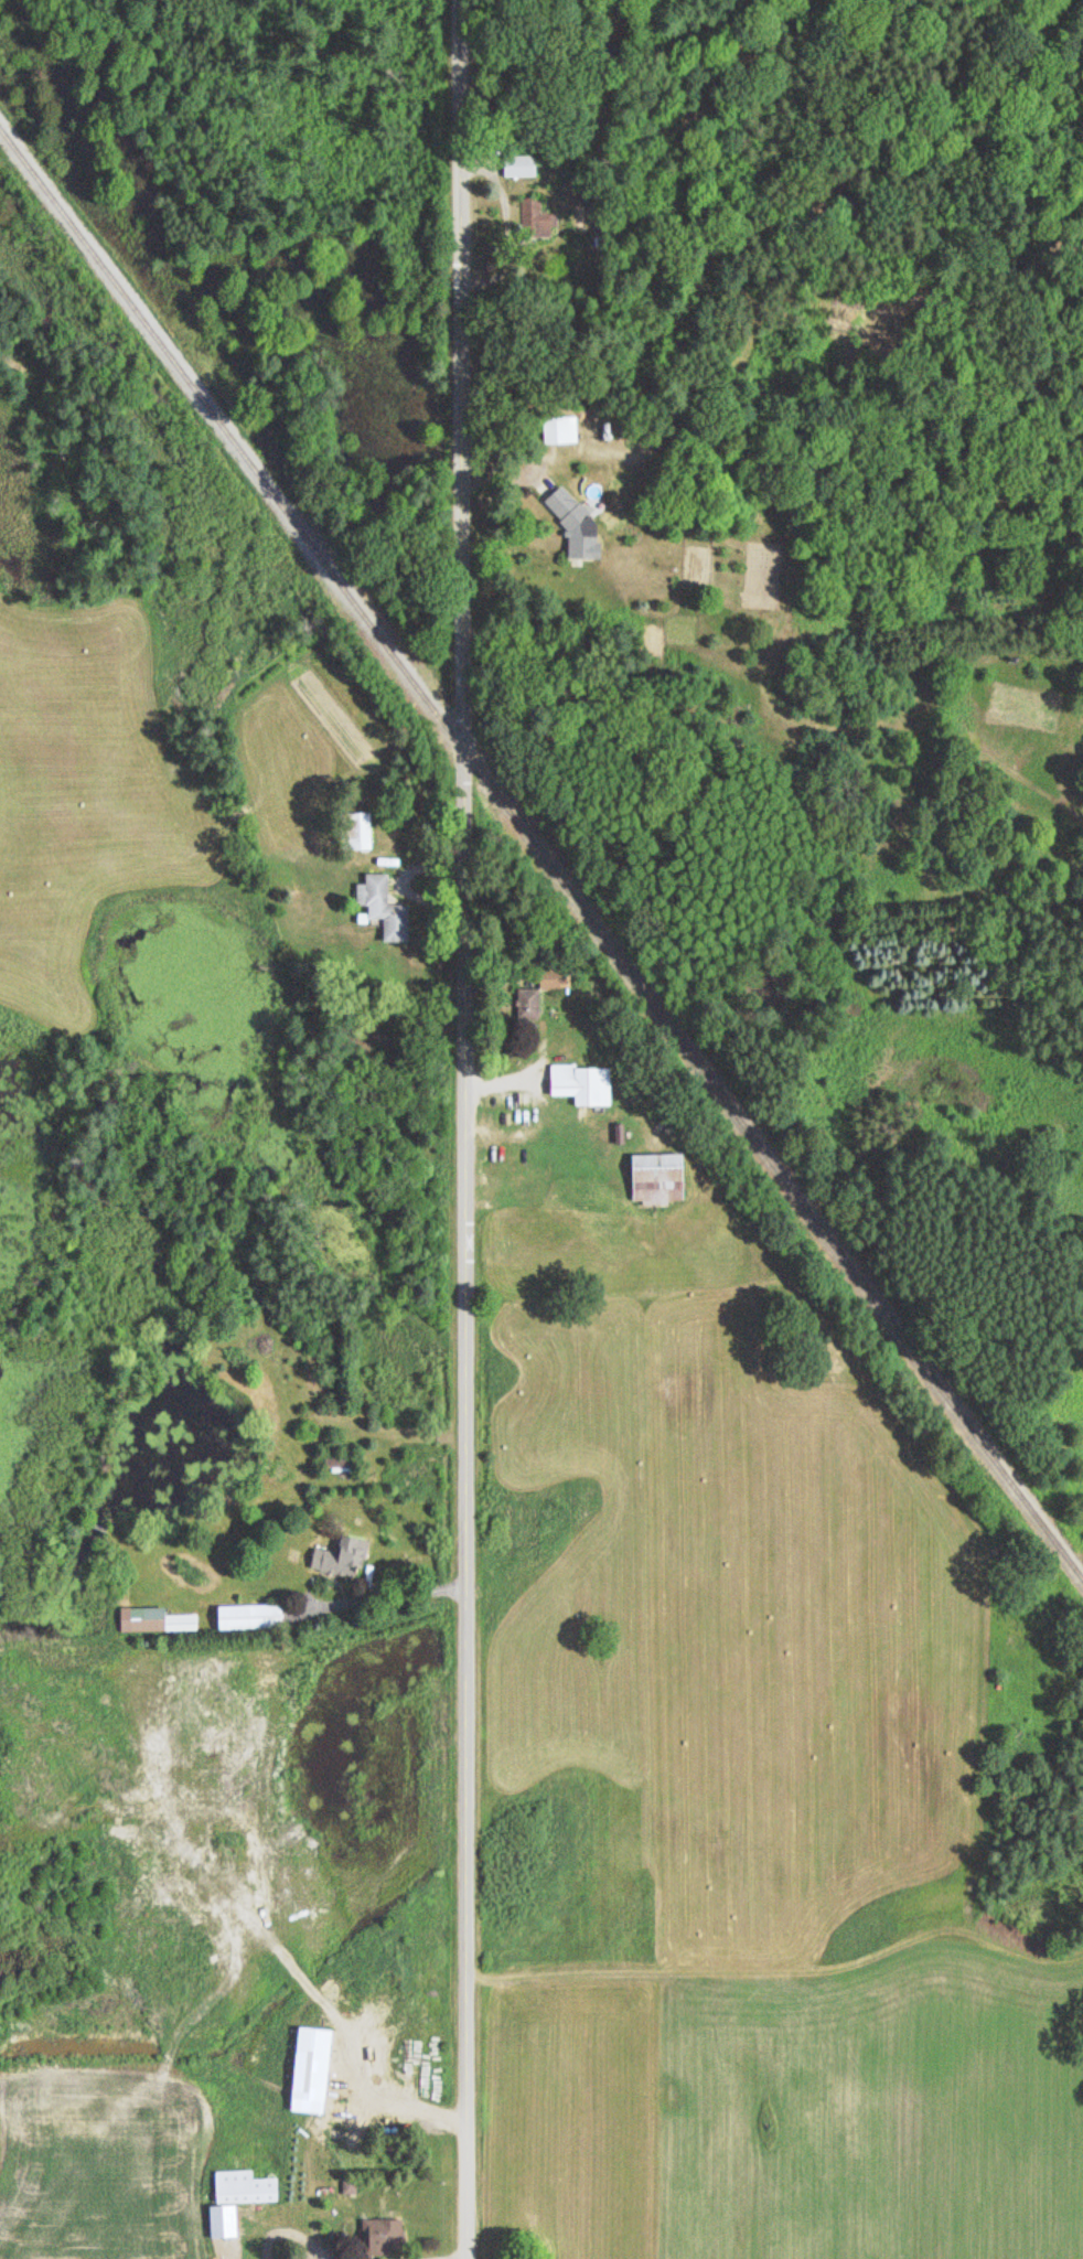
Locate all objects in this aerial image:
building: (522, 168)
building: (537, 218)
building: (561, 426)
building: (358, 831)
railway: (541, 849)
building: (386, 907)
building: (540, 993)
building: (585, 1083)
road: (464, 1128)
building: (662, 1177)
building: (341, 1463)
building: (346, 1556)
building: (253, 1617)
building: (162, 1620)
building: (239, 2198)
building: (384, 2236)

